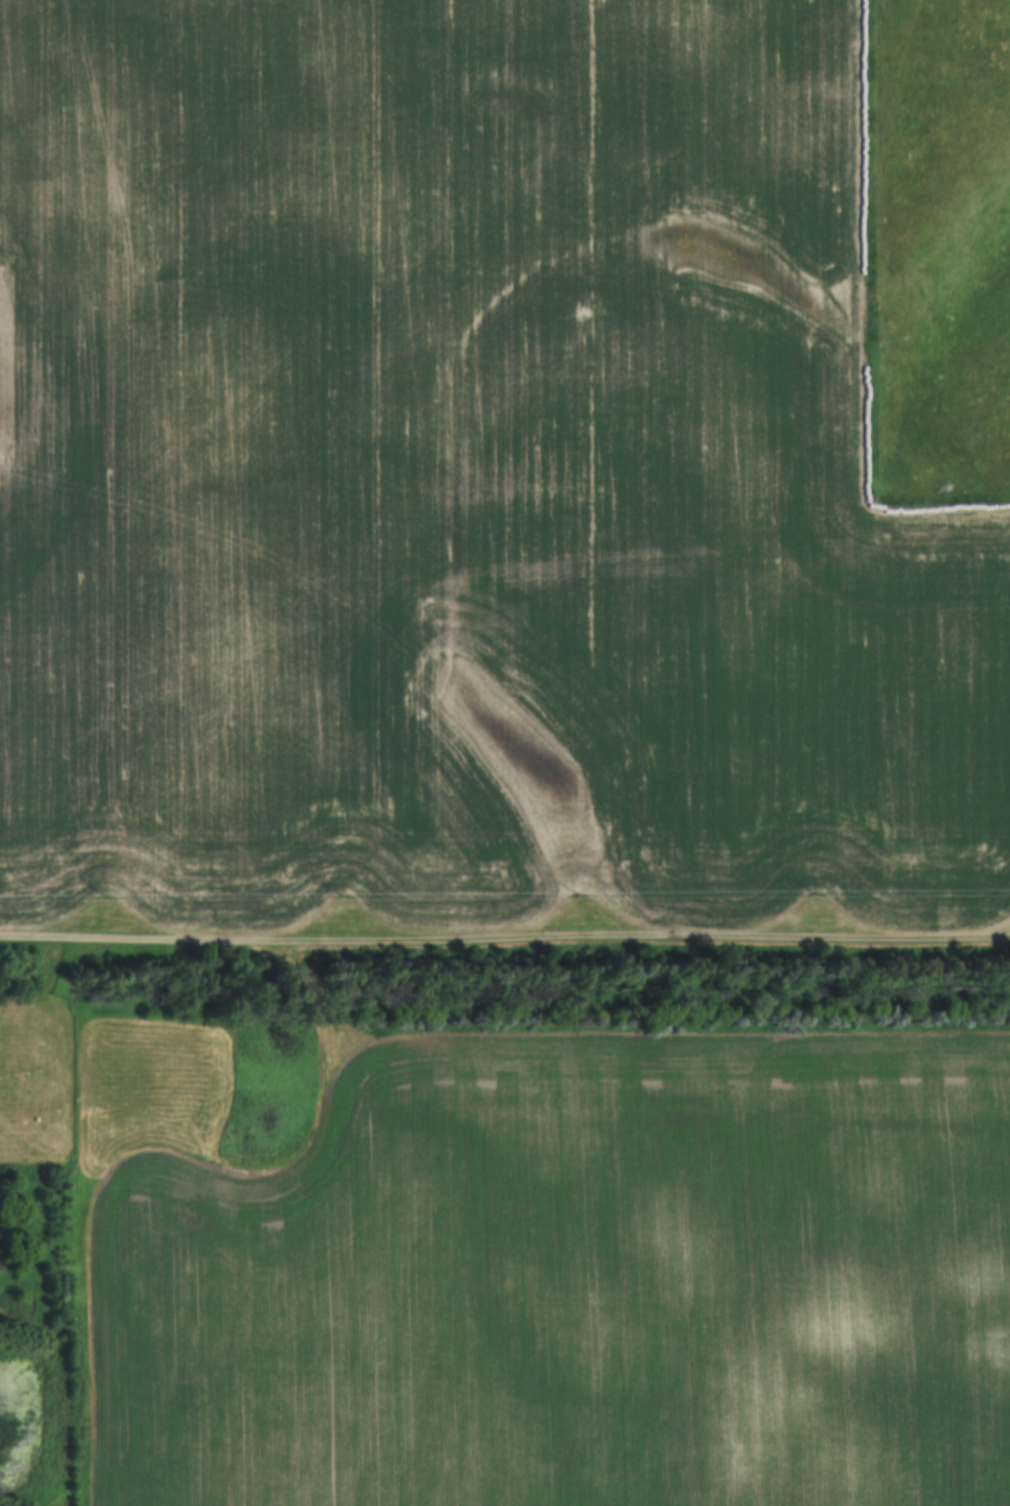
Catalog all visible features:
road: (505, 941)

